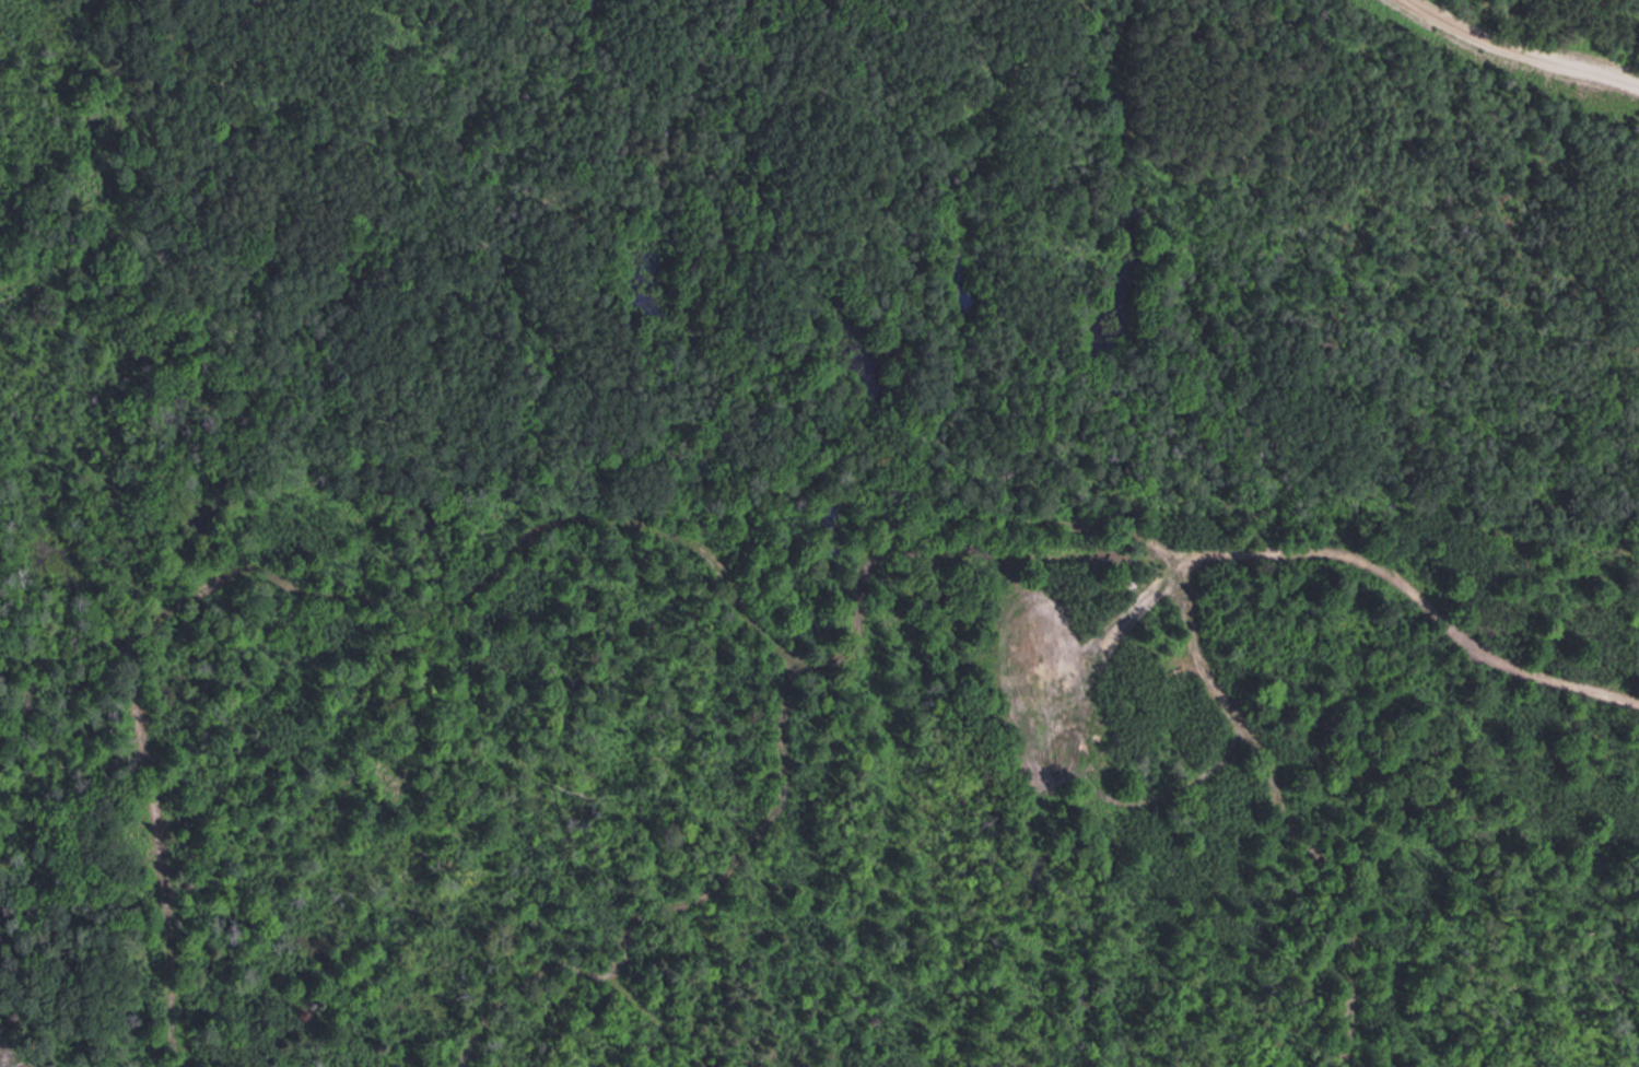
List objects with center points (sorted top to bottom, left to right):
road: (1543, 45)

